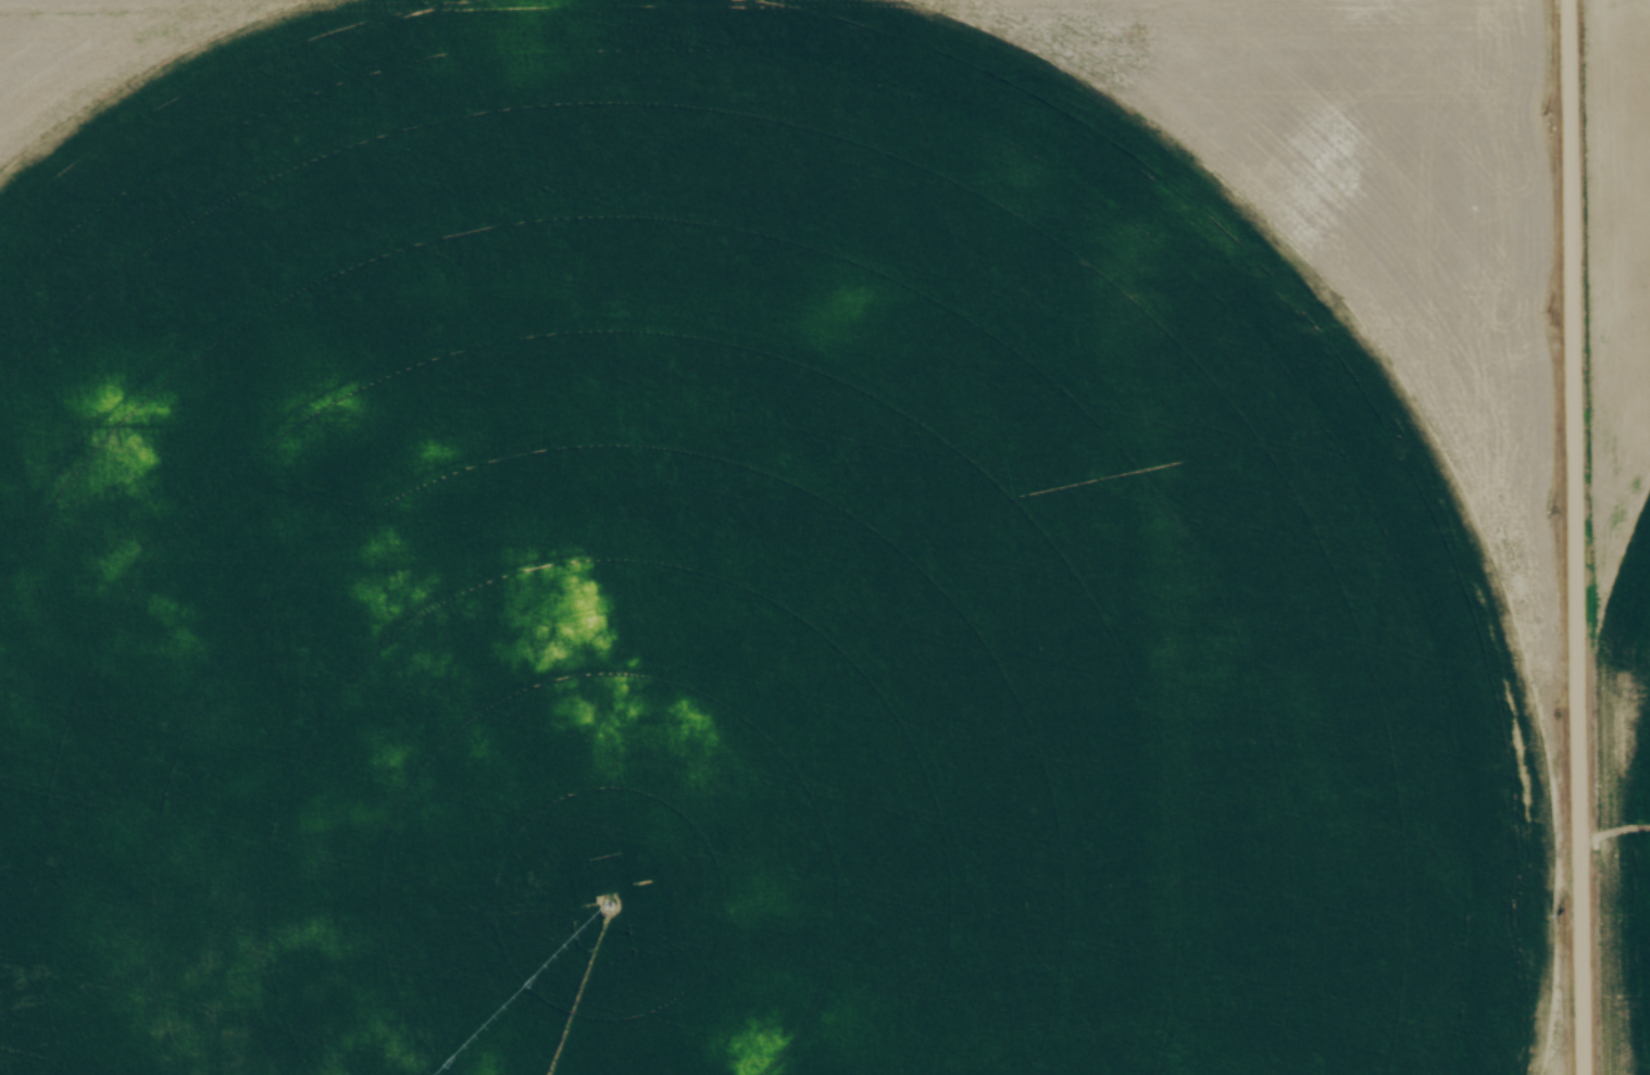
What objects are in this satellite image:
road: (1578, 537)

